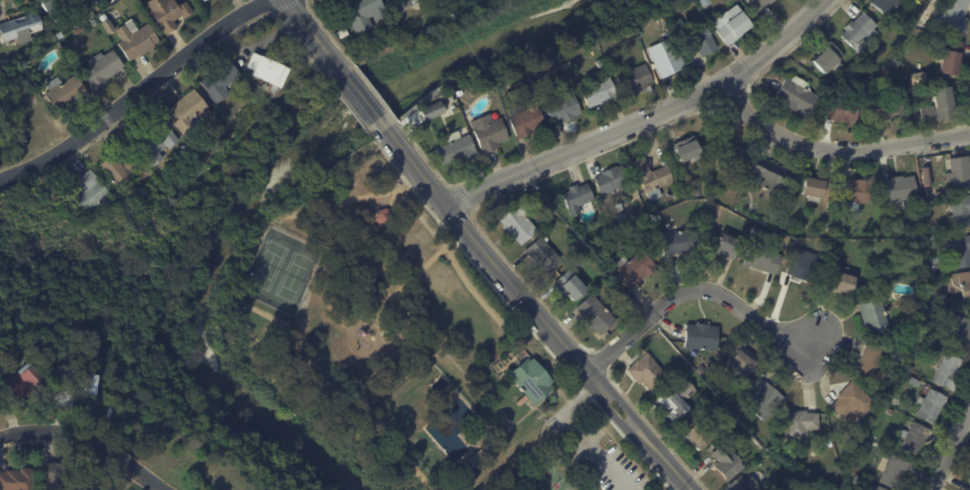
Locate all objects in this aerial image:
building: (88, 0)
building: (205, 0)
building: (94, 2)
building: (707, 2)
building: (761, 3)
building: (50, 4)
building: (405, 4)
building: (884, 5)
building: (117, 11)
building: (168, 13)
building: (364, 13)
building: (955, 16)
building: (93, 21)
building: (107, 25)
building: (680, 26)
building: (732, 27)
building: (19, 28)
building: (392, 29)
building: (860, 32)
road: (311, 33)
building: (343, 33)
building: (60, 35)
building: (701, 40)
building: (136, 42)
building: (951, 57)
building: (669, 59)
building: (830, 60)
building: (897, 63)
building: (102, 69)
building: (268, 71)
building: (920, 78)
building: (636, 80)
building: (220, 82)
building: (253, 82)
building: (459, 93)
building: (600, 93)
building: (66, 94)
road: (138, 94)
building: (534, 94)
building: (798, 96)
road: (363, 99)
building: (451, 99)
building: (889, 107)
building: (565, 108)
building: (940, 108)
building: (455, 110)
building: (434, 111)
building: (844, 112)
building: (188, 114)
road: (643, 118)
building: (527, 119)
building: (487, 132)
building: (153, 142)
building: (726, 142)
building: (190, 143)
building: (455, 147)
building: (184, 148)
building: (689, 149)
road: (835, 152)
road: (408, 157)
building: (735, 161)
building: (118, 169)
building: (961, 174)
building: (771, 177)
building: (613, 180)
building: (654, 180)
building: (153, 188)
building: (816, 190)
building: (858, 192)
building: (900, 192)
building: (90, 193)
building: (698, 194)
building: (580, 200)
building: (833, 206)
building: (852, 207)
building: (603, 208)
building: (716, 210)
building: (962, 211)
building: (384, 217)
building: (518, 223)
building: (614, 223)
building: (789, 230)
building: (832, 230)
building: (681, 243)
building: (826, 243)
building: (728, 247)
building: (961, 252)
building: (544, 255)
building: (764, 261)
park: (269, 265)
building: (805, 266)
building: (939, 267)
building: (636, 270)
road: (462, 276)
park: (294, 277)
building: (841, 281)
building: (936, 282)
building: (961, 285)
building: (572, 287)
road: (692, 292)
building: (634, 308)
road: (267, 314)
building: (597, 314)
building: (876, 317)
road: (557, 336)
building: (703, 338)
building: (969, 344)
building: (745, 361)
building: (911, 361)
building: (710, 362)
building: (873, 365)
building: (912, 370)
building: (648, 372)
building: (950, 373)
building: (531, 378)
building: (916, 382)
building: (28, 383)
building: (77, 388)
building: (106, 390)
building: (764, 398)
building: (678, 400)
building: (854, 402)
building: (932, 407)
building: (723, 408)
building: (800, 425)
road: (31, 434)
building: (697, 435)
road: (586, 436)
building: (915, 439)
building: (830, 444)
building: (889, 451)
road: (950, 452)
road: (119, 454)
building: (727, 463)
building: (761, 463)
building: (896, 473)
building: (59, 475)
park: (553, 479)
building: (18, 480)
building: (745, 484)
building: (803, 485)
building: (878, 488)
building: (101, 489)

